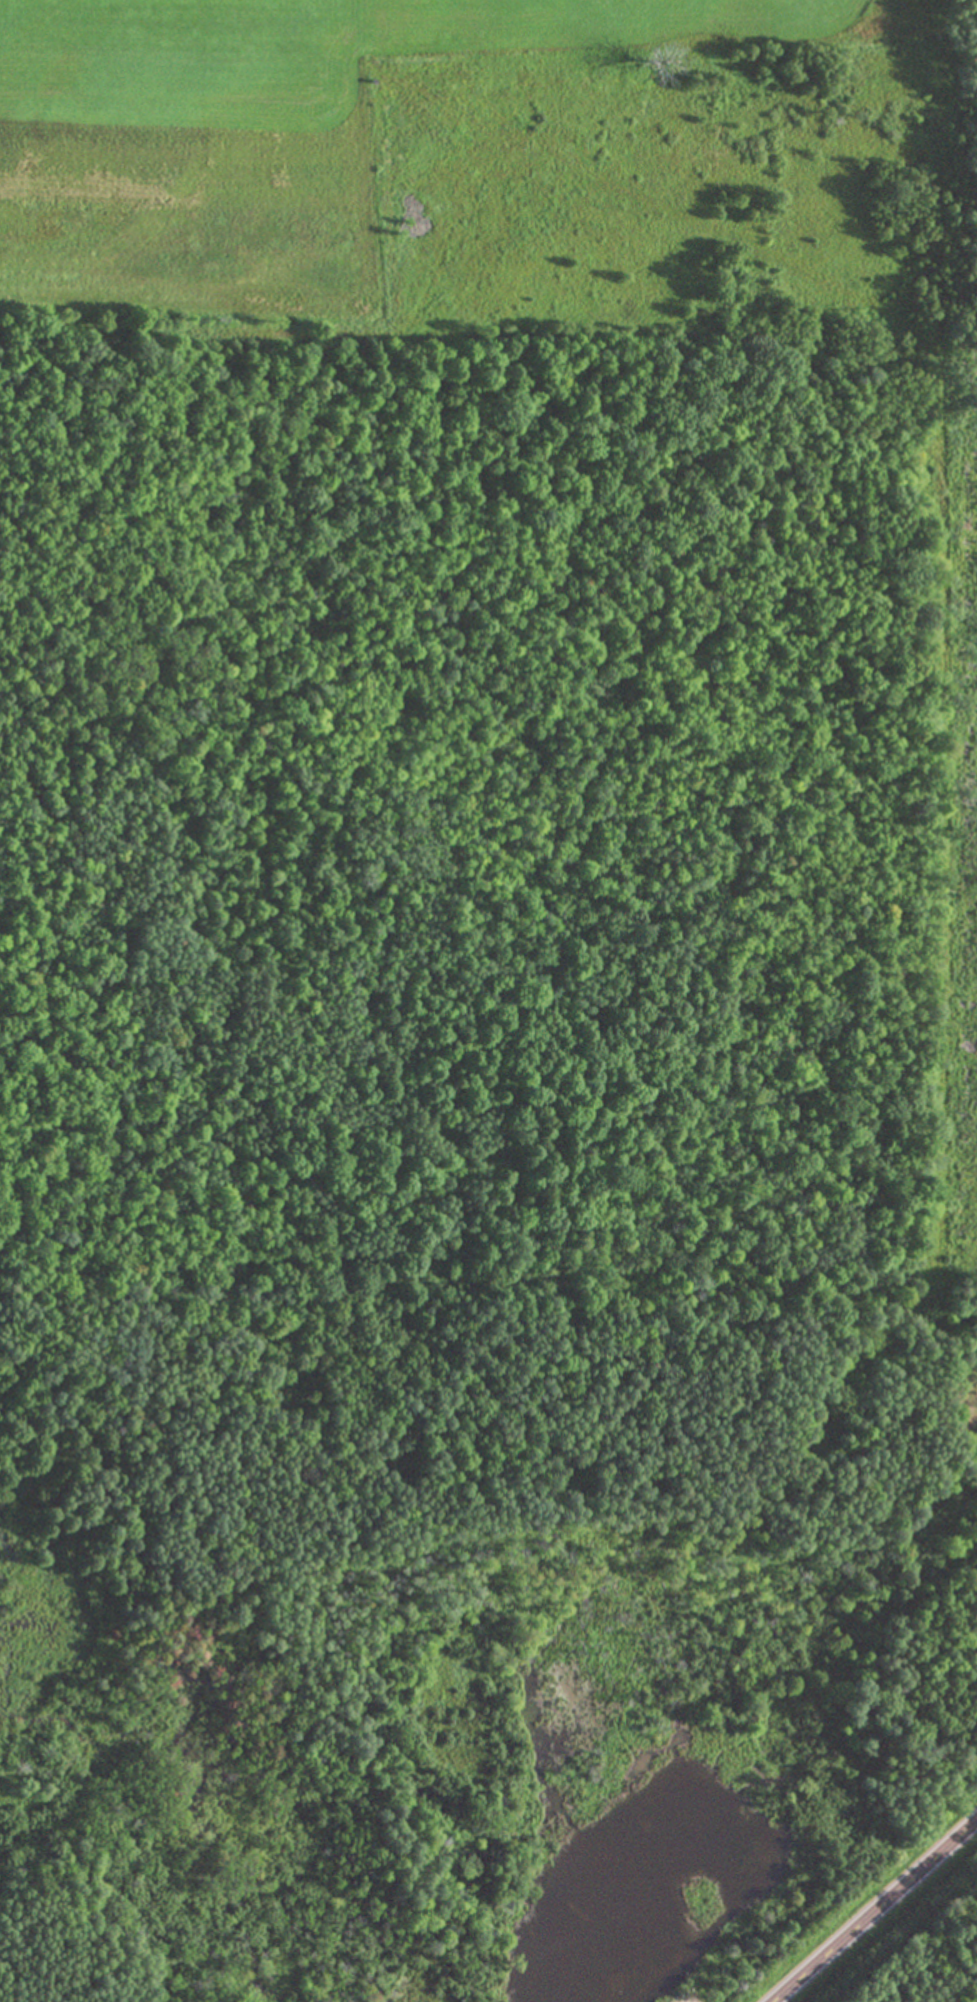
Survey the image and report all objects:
crop: (482, 165)
road: (874, 1910)

